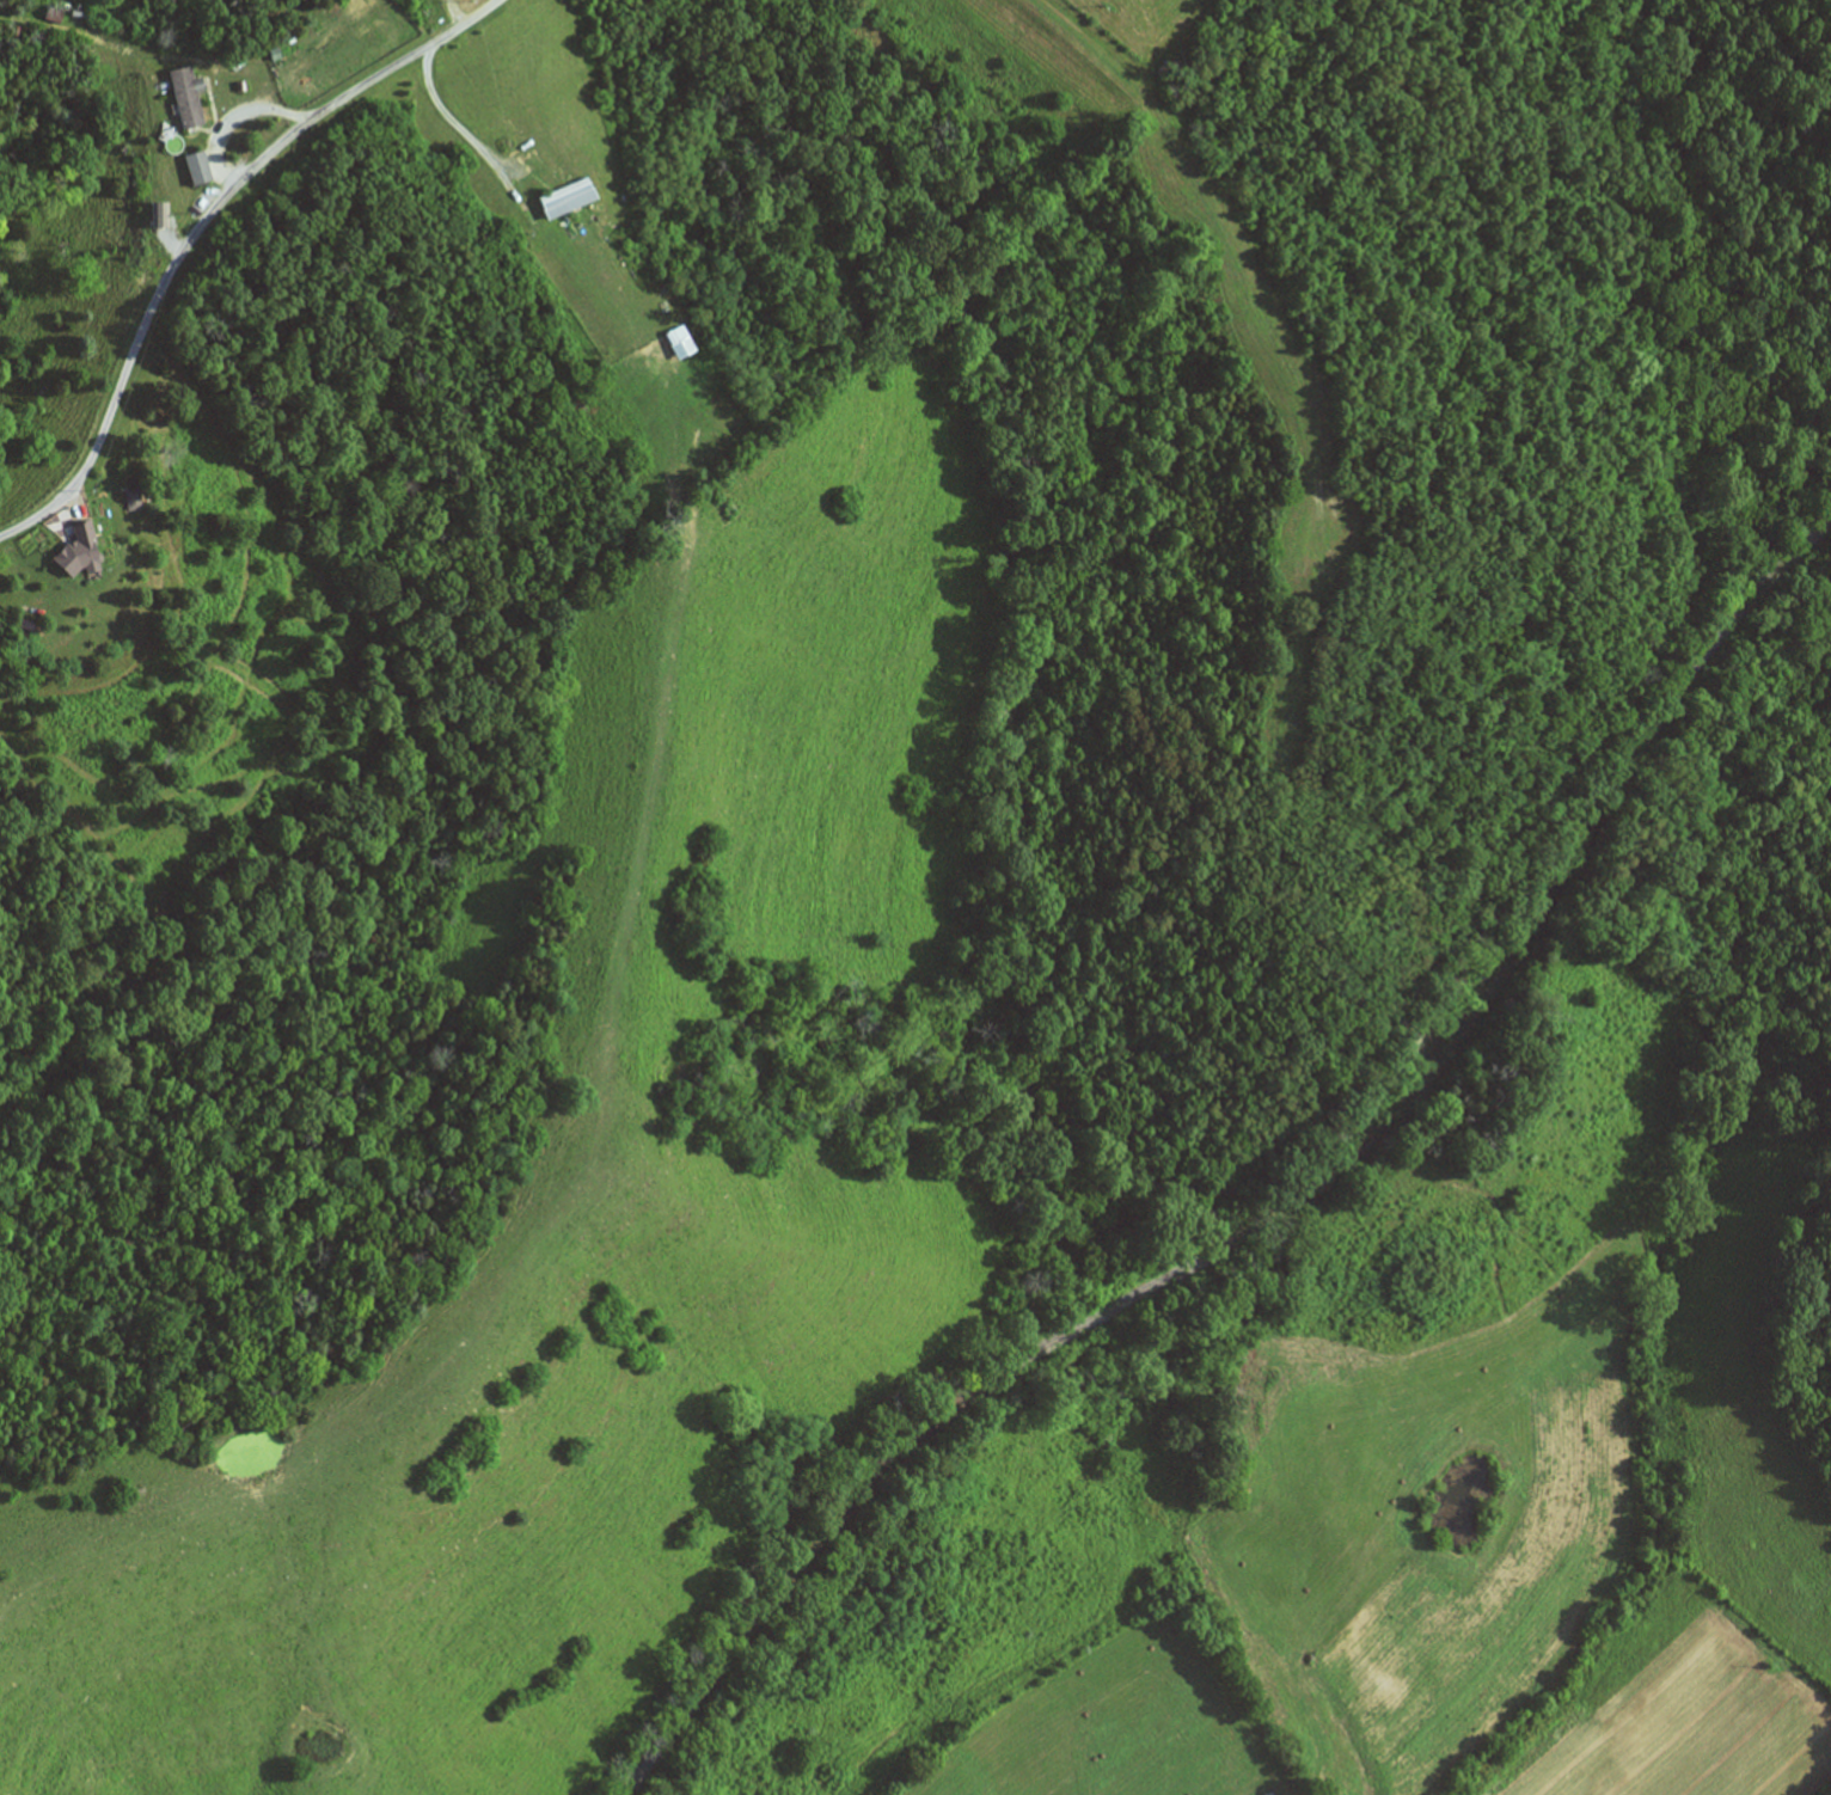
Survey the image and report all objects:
building: (53, 17)
building: (186, 96)
building: (198, 169)
building: (564, 197)
road: (196, 229)
building: (80, 557)
railway: (1278, 1205)

